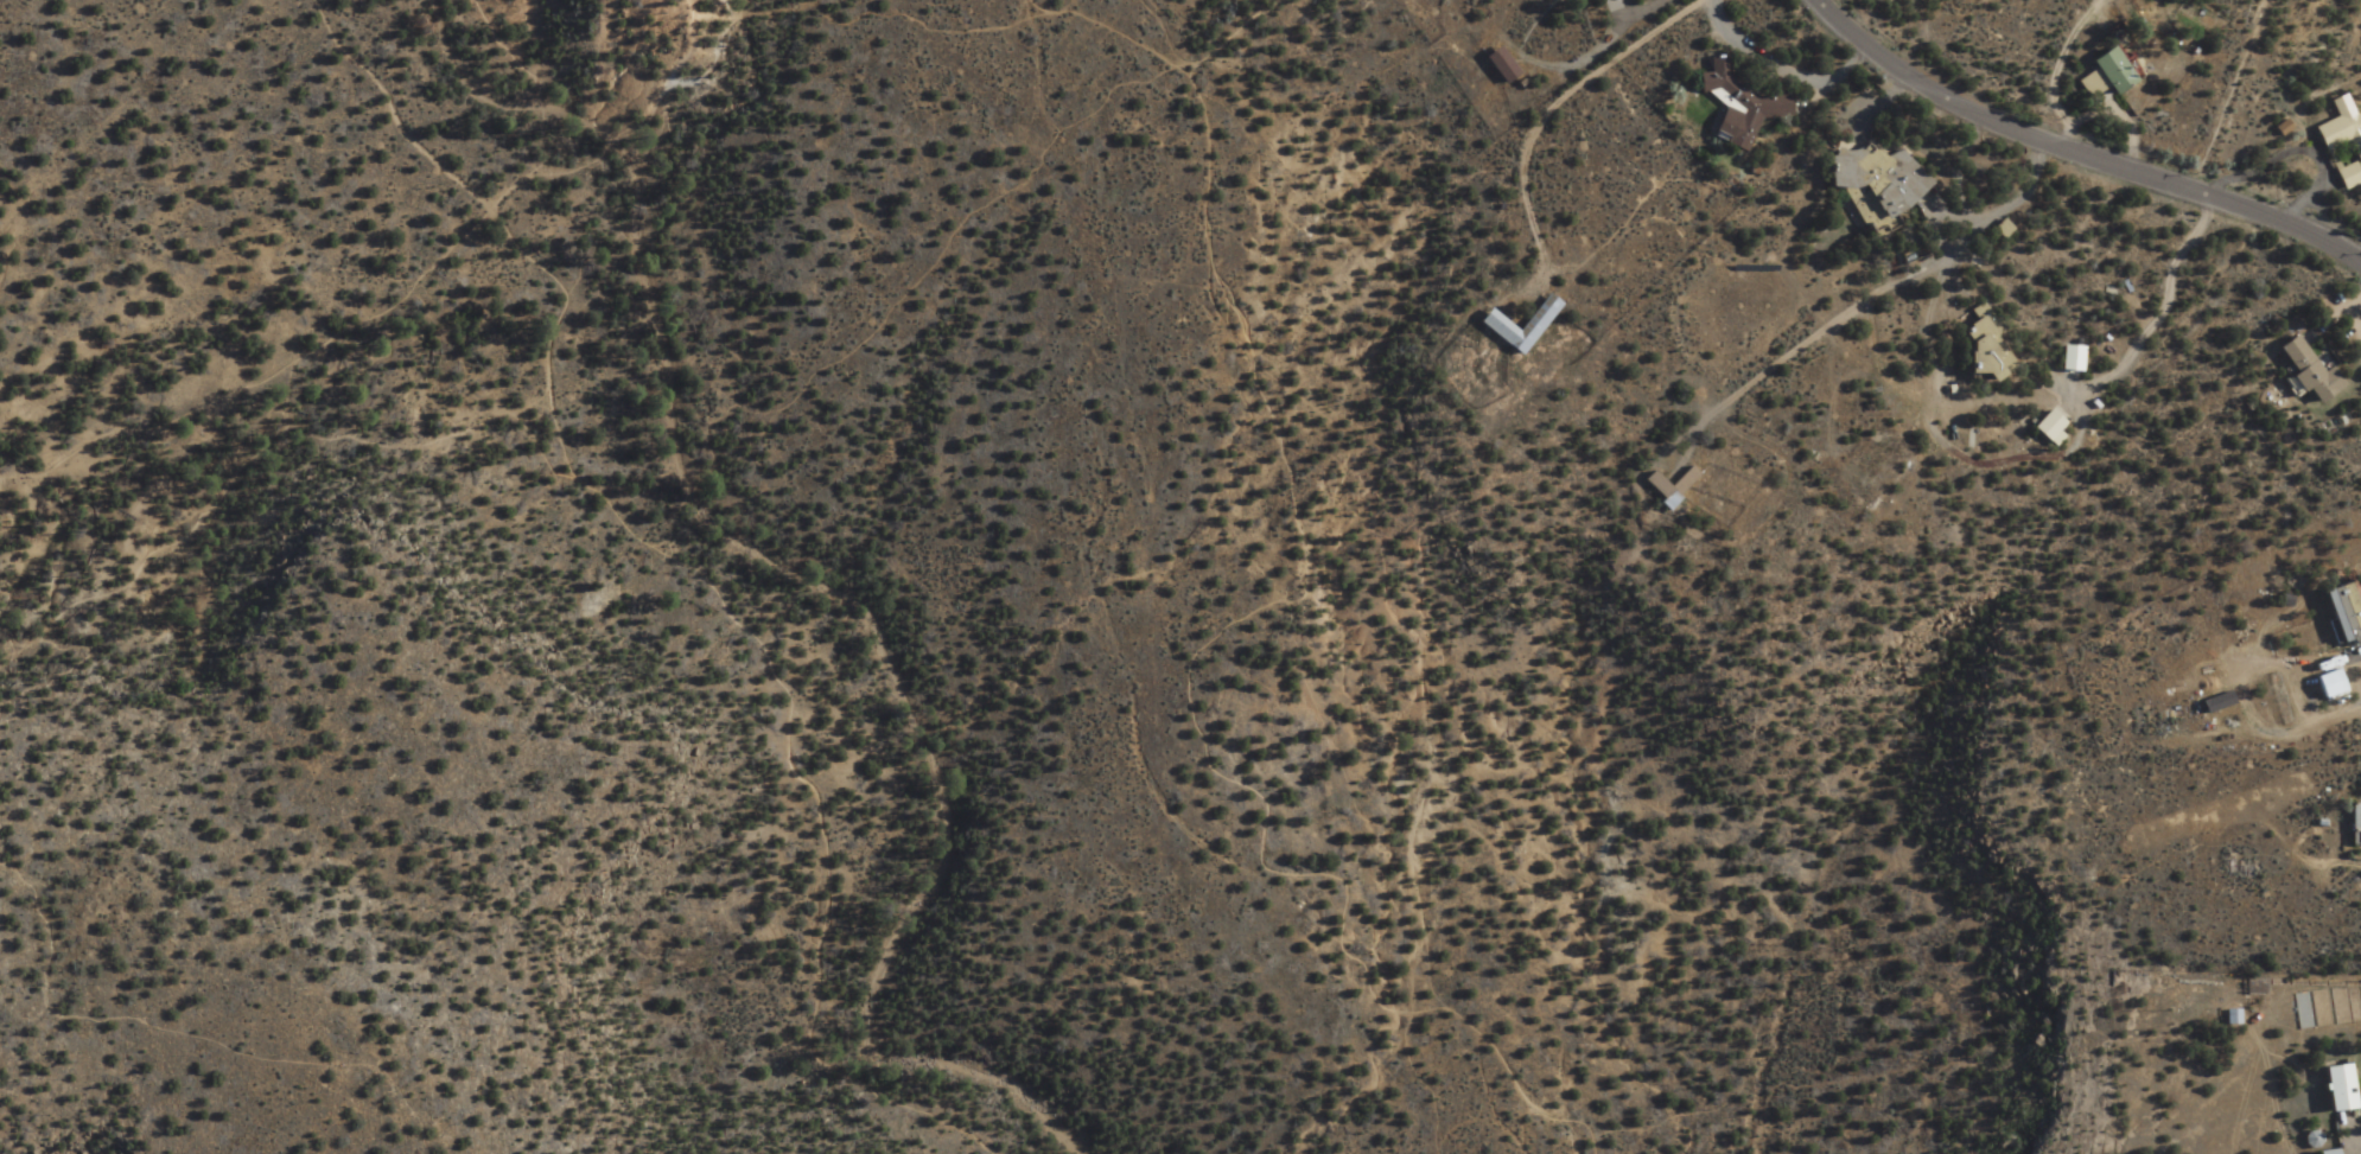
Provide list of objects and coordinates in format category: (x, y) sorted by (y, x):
road: (2113, 6)
road: (737, 20)
road: (927, 27)
road: (1233, 36)
building: (1510, 64)
building: (2107, 71)
road: (674, 84)
road: (2220, 93)
building: (1733, 106)
road: (1564, 107)
building: (2342, 133)
road: (2076, 151)
road: (2037, 165)
building: (2347, 177)
building: (1872, 184)
road: (588, 254)
road: (879, 299)
road: (373, 307)
building: (1508, 326)
road: (2355, 326)
road: (2153, 330)
road: (651, 339)
building: (1971, 344)
building: (2300, 372)
road: (439, 427)
building: (2043, 428)
building: (1680, 485)
road: (171, 544)
road: (691, 568)
building: (2336, 613)
road: (1240, 614)
road: (25, 639)
building: (2210, 701)
road: (1357, 702)
road: (1438, 714)
building: (2353, 824)
road: (201, 1026)
building: (2331, 1088)

